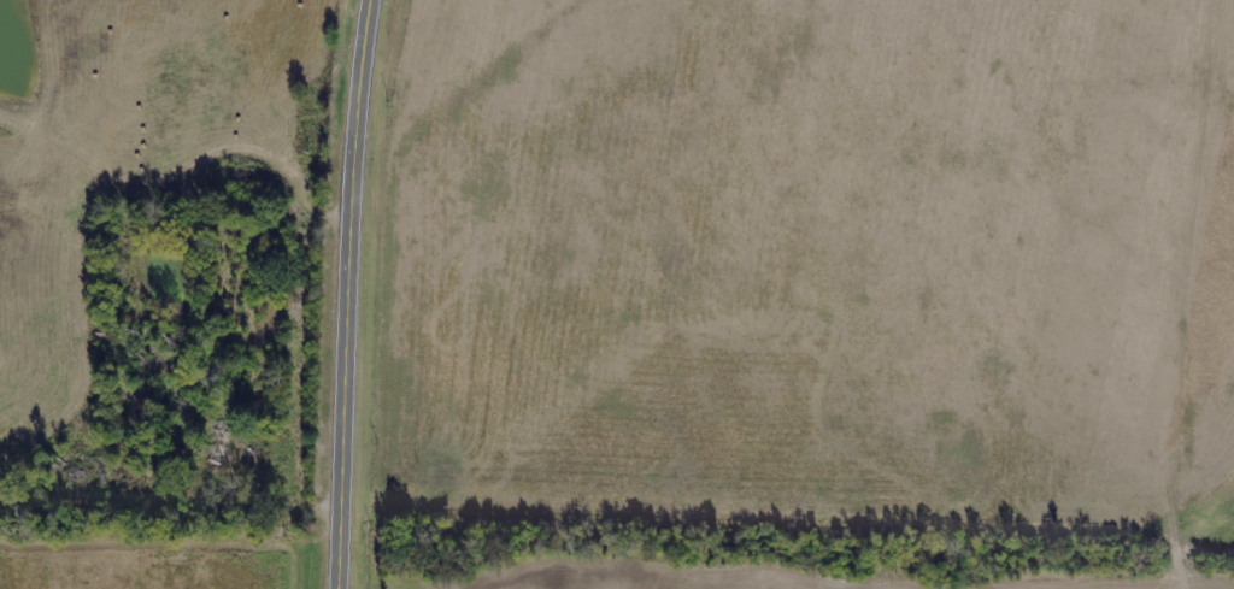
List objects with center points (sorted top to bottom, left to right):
road: (343, 294)

